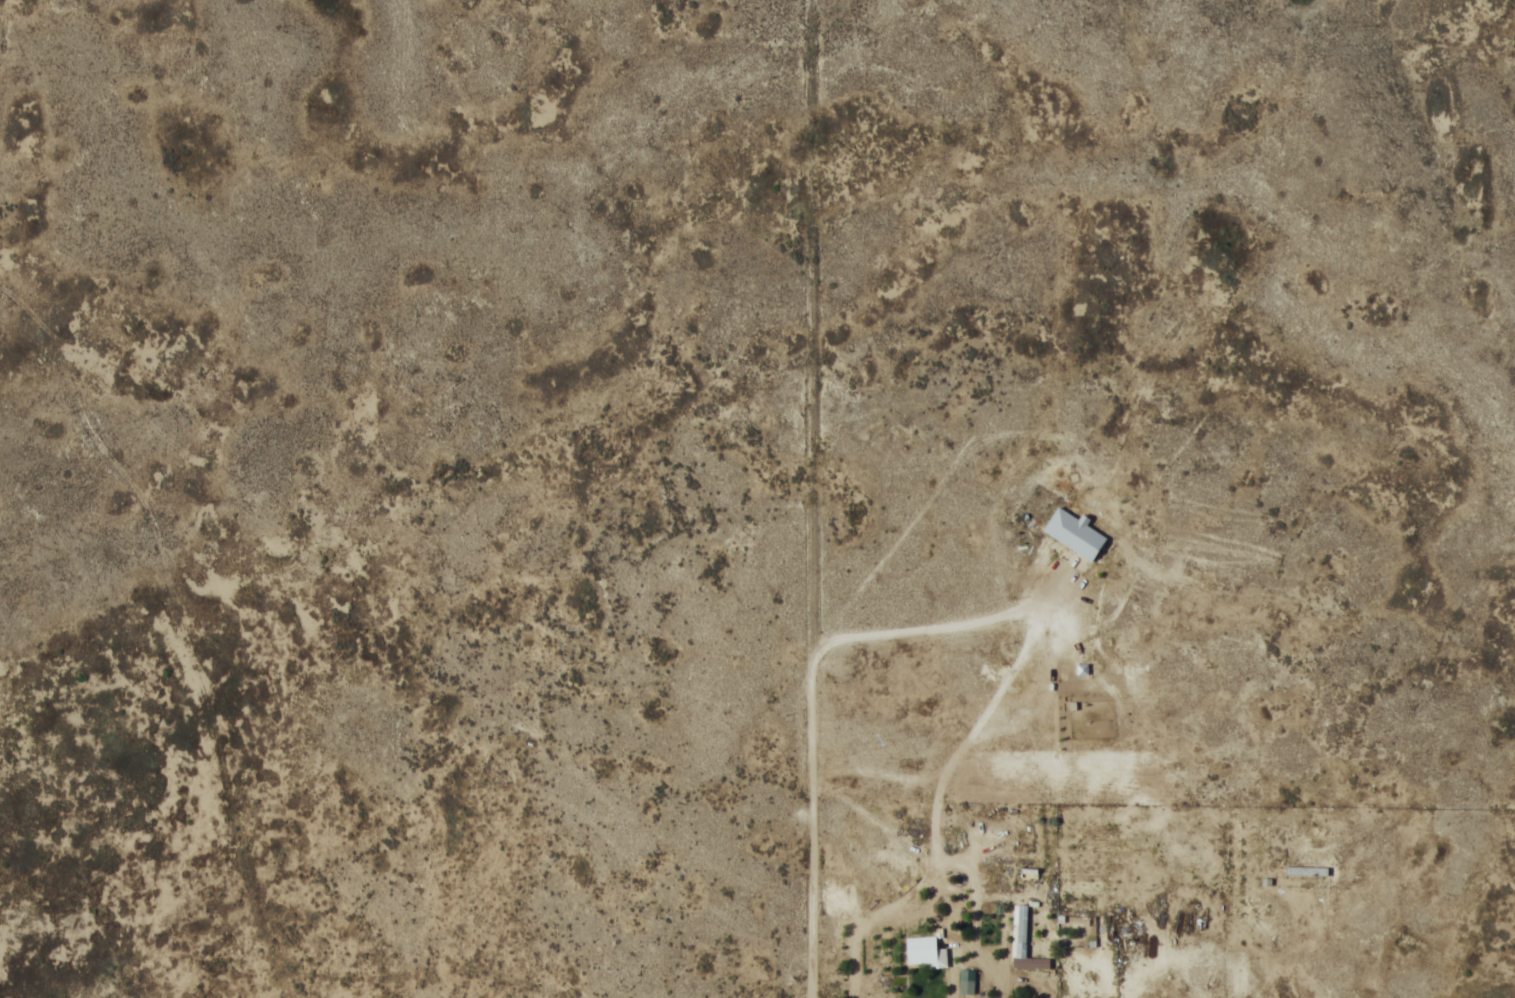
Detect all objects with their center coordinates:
building: (1062, 525)
road: (815, 828)
building: (1023, 941)
road: (180, 943)
building: (921, 949)

